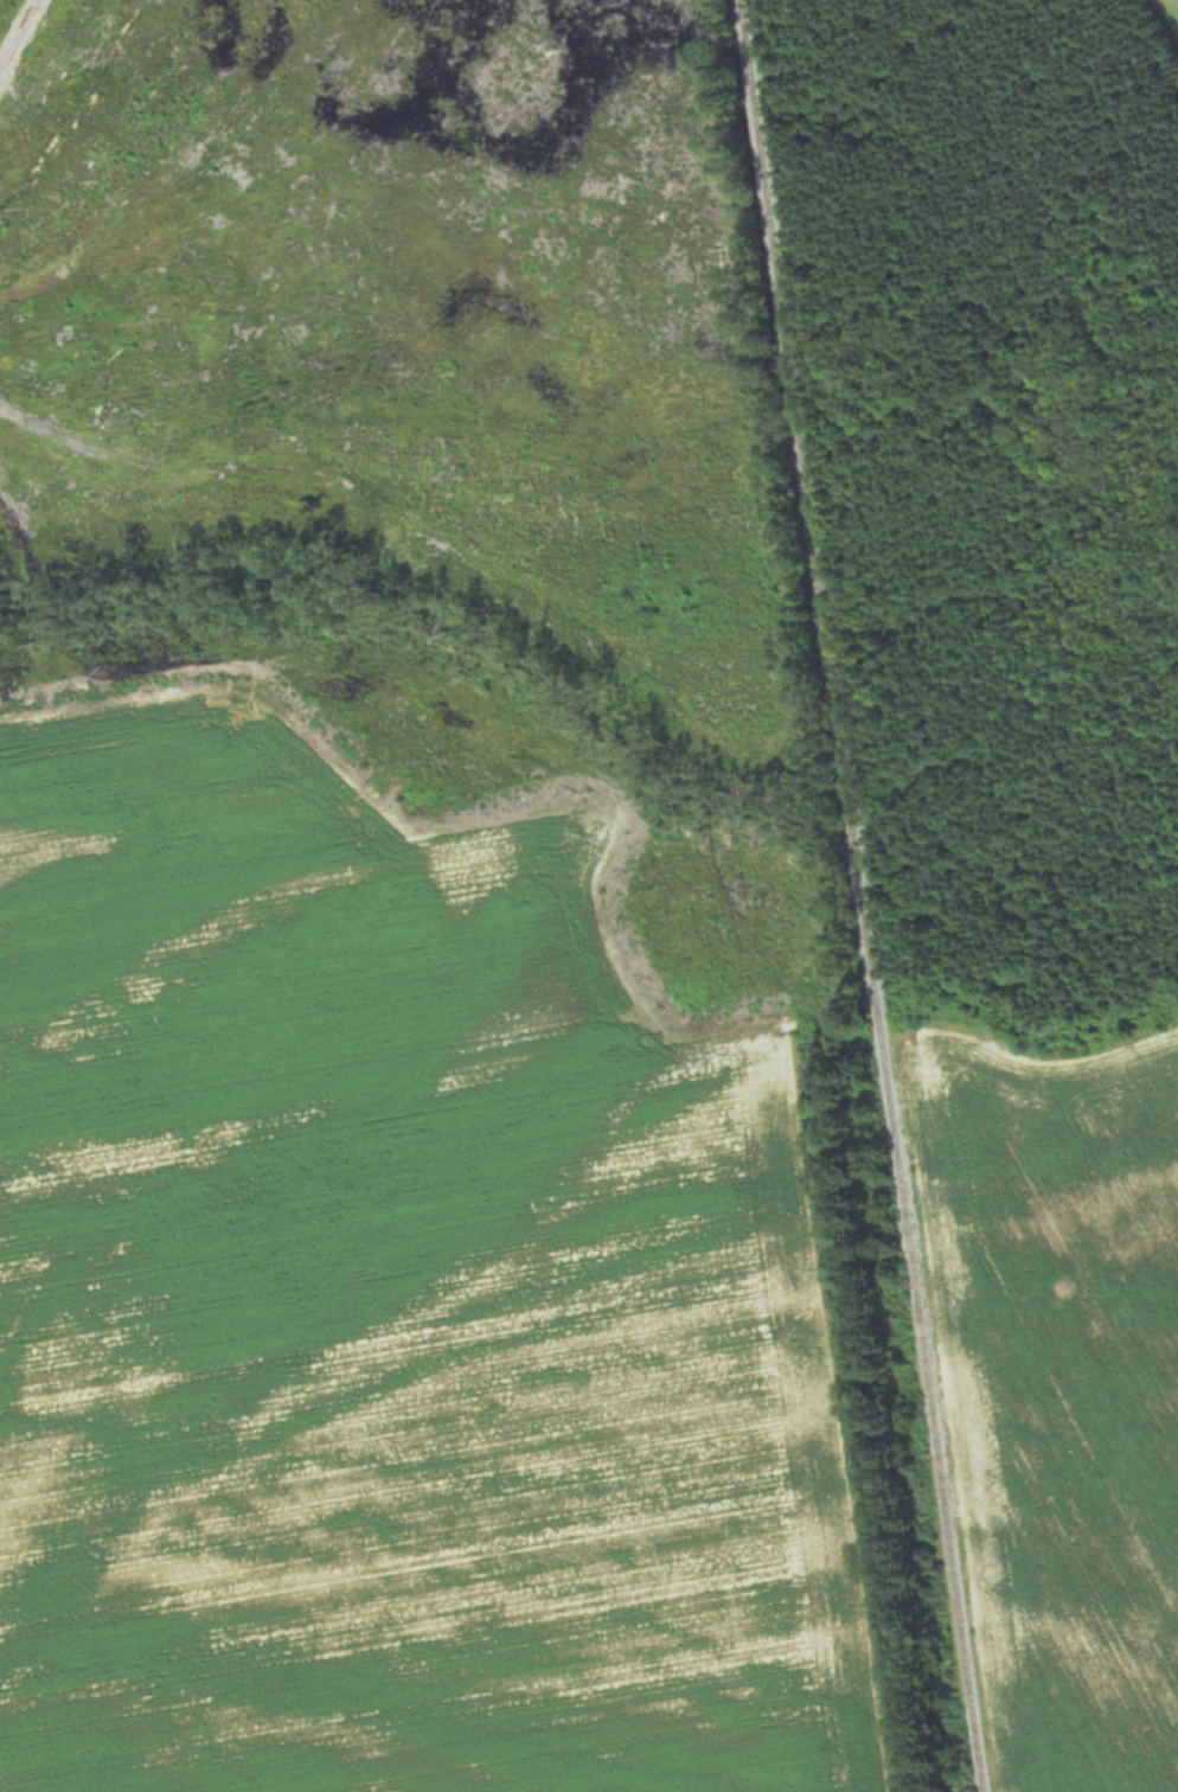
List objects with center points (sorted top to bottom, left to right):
railway: (859, 896)

